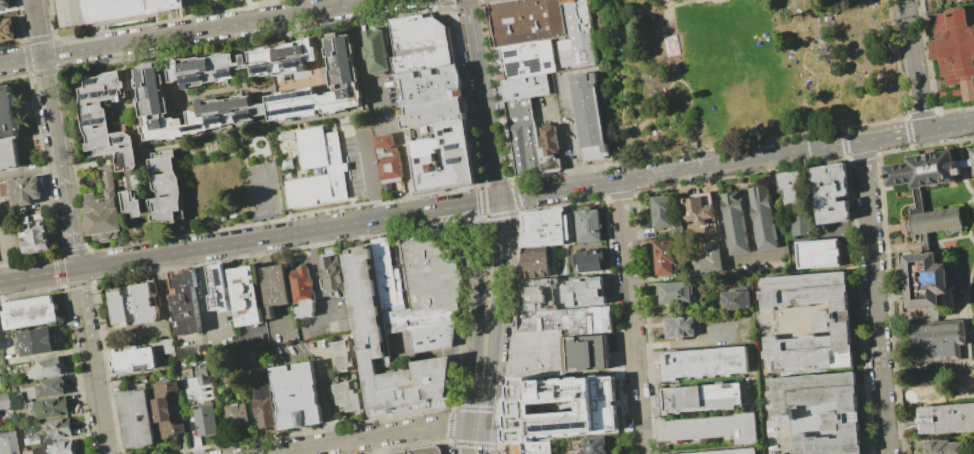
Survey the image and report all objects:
park: (701, 1)
park: (718, 1)
building: (5, 4)
road: (682, 5)
building: (110, 10)
building: (525, 20)
road: (472, 26)
building: (7, 30)
road: (192, 31)
building: (576, 35)
building: (421, 44)
building: (954, 49)
building: (378, 51)
traffic signals: (43, 56)
road: (364, 57)
building: (525, 59)
road: (914, 64)
rooftop solar panel: (297, 65)
building: (243, 69)
park: (741, 69)
rooftop solar panel: (263, 71)
rooftop solar panel: (230, 77)
rooftop solar panel: (197, 79)
building: (342, 80)
rooftop solar panel: (95, 81)
road: (683, 81)
building: (429, 85)
building: (524, 86)
road: (48, 88)
road: (621, 89)
rooftop solar panel: (99, 94)
rooftop solar panel: (306, 94)
rooftop solar panel: (283, 98)
building: (293, 108)
rooftop solar panel: (306, 108)
building: (155, 109)
rooftop solar panel: (282, 111)
building: (518, 111)
building: (433, 112)
building: (590, 115)
road: (655, 115)
building: (221, 117)
rooftop solar panel: (243, 119)
rooftop solar panel: (214, 121)
rooftop solar panel: (94, 123)
rooftop solar panel: (218, 124)
road: (949, 125)
road: (488, 126)
rooftop solar panel: (196, 127)
road: (576, 130)
building: (8, 131)
road: (893, 135)
rooftop solar panel: (121, 139)
rooftop solar panel: (455, 145)
building: (524, 148)
building: (548, 149)
building: (127, 151)
building: (445, 157)
building: (972, 157)
rooftop solar panel: (459, 160)
building: (389, 161)
parking lot: (361, 164)
road: (404, 166)
building: (337, 168)
road: (681, 169)
road: (30, 170)
building: (921, 170)
road: (370, 176)
building: (791, 187)
park: (262, 188)
building: (22, 190)
building: (830, 193)
traffic signals: (501, 199)
road: (451, 207)
building: (698, 208)
building: (104, 211)
building: (663, 211)
building: (763, 218)
building: (934, 220)
road: (70, 223)
building: (736, 223)
building: (799, 224)
building: (588, 225)
rooftop solar panel: (547, 226)
building: (545, 227)
rooftop solar panel: (544, 229)
building: (35, 234)
rooftop solar panel: (545, 234)
road: (460, 241)
road: (240, 242)
road: (4, 253)
building: (820, 253)
road: (756, 256)
building: (664, 257)
building: (591, 260)
building: (710, 260)
building: (535, 262)
traffic signals: (78, 268)
road: (39, 274)
building: (331, 274)
rooftop solar panel: (221, 278)
road: (317, 279)
road: (86, 285)
building: (274, 285)
road: (76, 286)
building: (217, 286)
building: (584, 291)
building: (302, 292)
building: (674, 292)
road: (204, 294)
building: (540, 294)
building: (244, 295)
road: (875, 297)
building: (735, 299)
rooftop solar panel: (223, 300)
building: (183, 302)
building: (132, 305)
road: (702, 308)
building: (931, 311)
building: (29, 312)
road: (495, 314)
road: (632, 316)
building: (403, 318)
building: (590, 319)
building: (542, 320)
building: (830, 323)
building: (679, 327)
road: (478, 336)
building: (36, 341)
road: (681, 342)
building: (167, 345)
building: (585, 352)
building: (536, 354)
building: (342, 356)
building: (133, 360)
building: (704, 362)
building: (383, 365)
road: (928, 367)
building: (44, 368)
building: (201, 374)
road: (94, 379)
building: (46, 388)
building: (295, 395)
building: (346, 396)
building: (701, 397)
road: (472, 399)
building: (2, 400)
building: (263, 404)
building: (50, 407)
building: (559, 407)
building: (165, 411)
building: (817, 412)
building: (237, 414)
building: (135, 419)
building: (948, 419)
building: (206, 421)
traffic signals: (477, 427)
building: (708, 427)
building: (57, 428)
road: (370, 436)
building: (28, 440)
road: (474, 440)
building: (5, 443)
building: (594, 445)
building: (60, 447)
building: (528, 447)
building: (943, 447)
building: (26, 451)
road: (294, 451)
building: (400, 451)
building: (723, 451)

